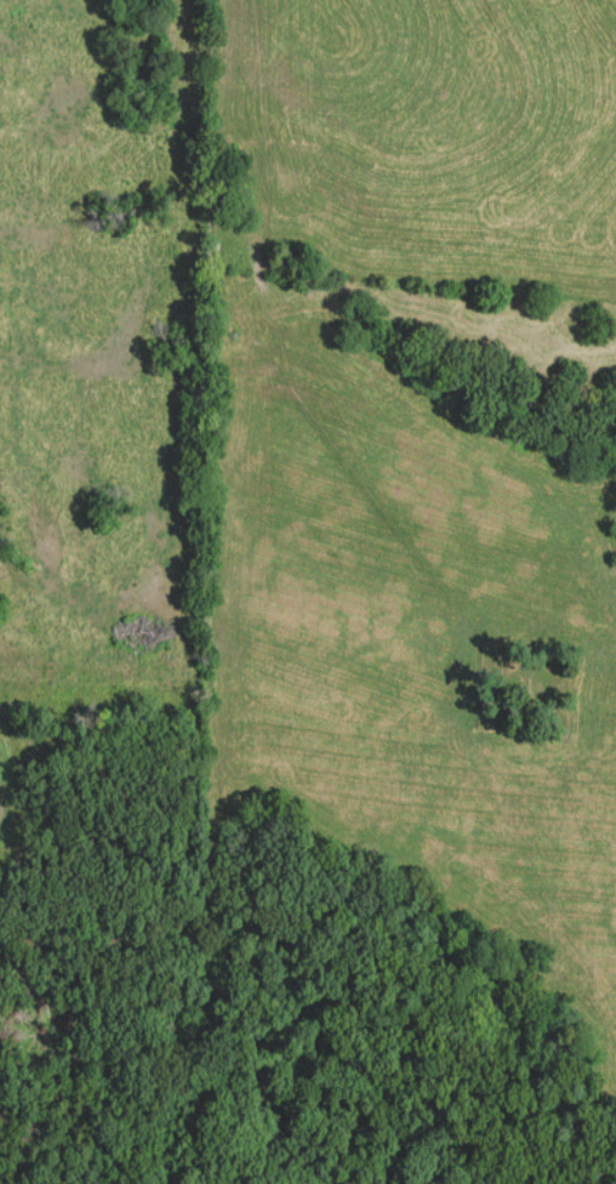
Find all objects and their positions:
park: (525, 687)

